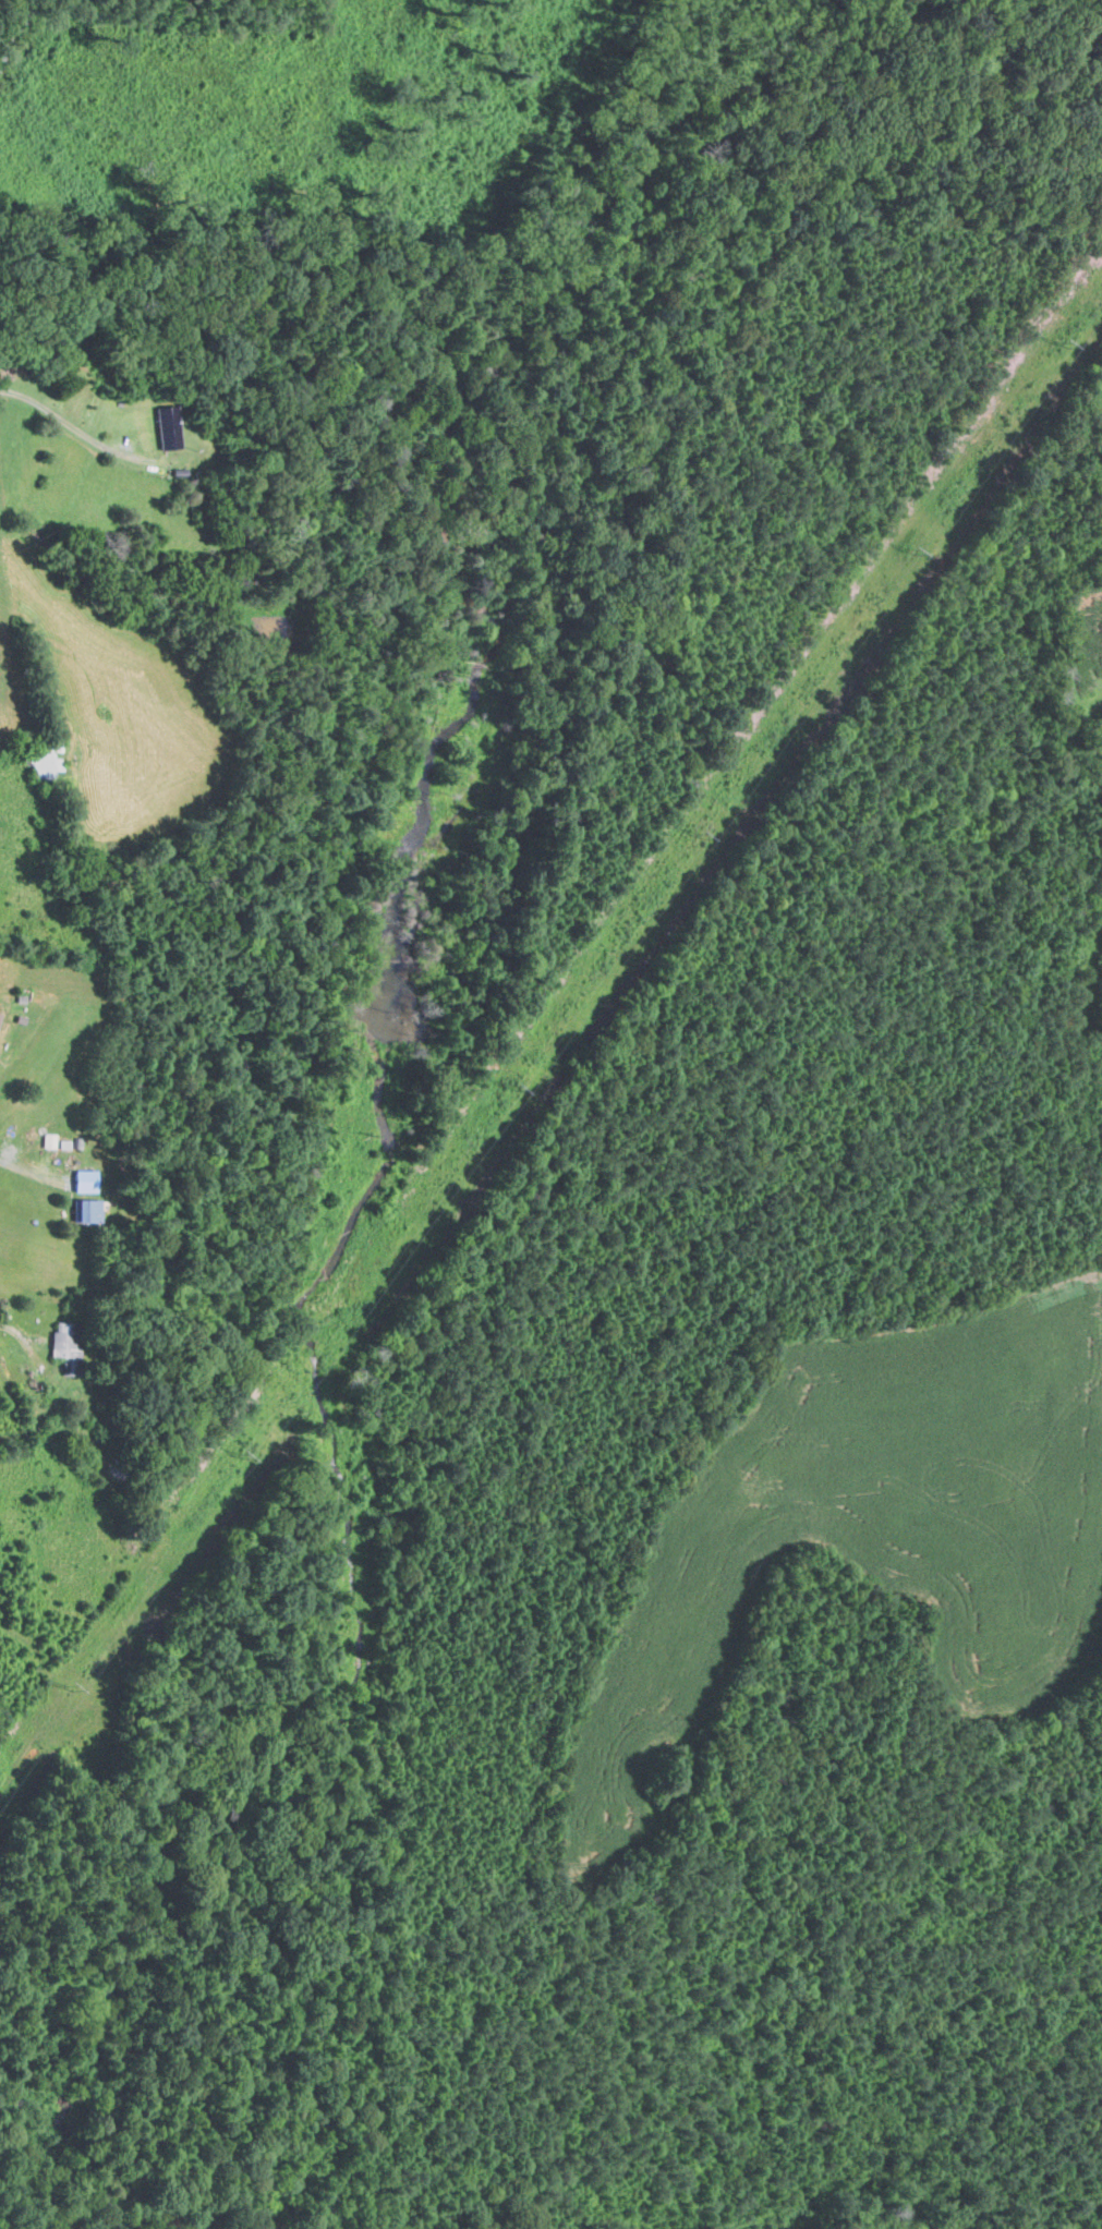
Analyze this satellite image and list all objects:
road: (13, 31)
building: (165, 427)
road: (82, 428)
building: (43, 765)
road: (31, 1172)
building: (87, 1180)
building: (95, 1210)
road: (14, 1331)
building: (68, 1343)

